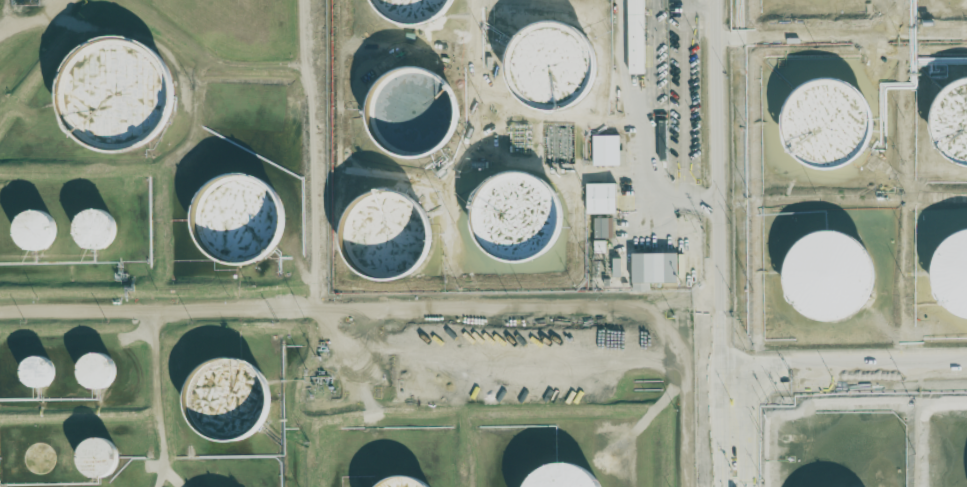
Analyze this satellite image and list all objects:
road: (684, 4)
road: (703, 7)
building: (408, 12)
storage tank: (408, 12)
building: (636, 37)
building: (548, 68)
storage tank: (548, 68)
road: (683, 93)
building: (114, 94)
storage tank: (114, 94)
building: (411, 114)
storage tank: (411, 114)
building: (950, 125)
storage tank: (950, 125)
building: (823, 128)
storage tank: (823, 128)
building: (605, 150)
building: (601, 198)
road: (697, 200)
building: (514, 221)
storage tank: (514, 221)
building: (236, 223)
storage tank: (236, 223)
building: (96, 231)
storage tank: (96, 231)
building: (34, 232)
storage tank: (34, 232)
building: (381, 239)
storage tank: (381, 239)
road: (725, 243)
building: (599, 246)
building: (616, 267)
building: (653, 269)
building: (950, 277)
storage tank: (950, 277)
building: (826, 280)
storage tank: (826, 280)
road: (334, 355)
road: (847, 358)
building: (95, 374)
storage tank: (95, 374)
building: (34, 376)
storage tank: (34, 376)
railway: (700, 396)
building: (227, 403)
storage tank: (227, 403)
building: (95, 460)
storage tank: (95, 460)
building: (36, 462)
storage tank: (36, 462)
building: (562, 479)
storage tank: (562, 479)
building: (401, 484)
storage tank: (401, 484)

